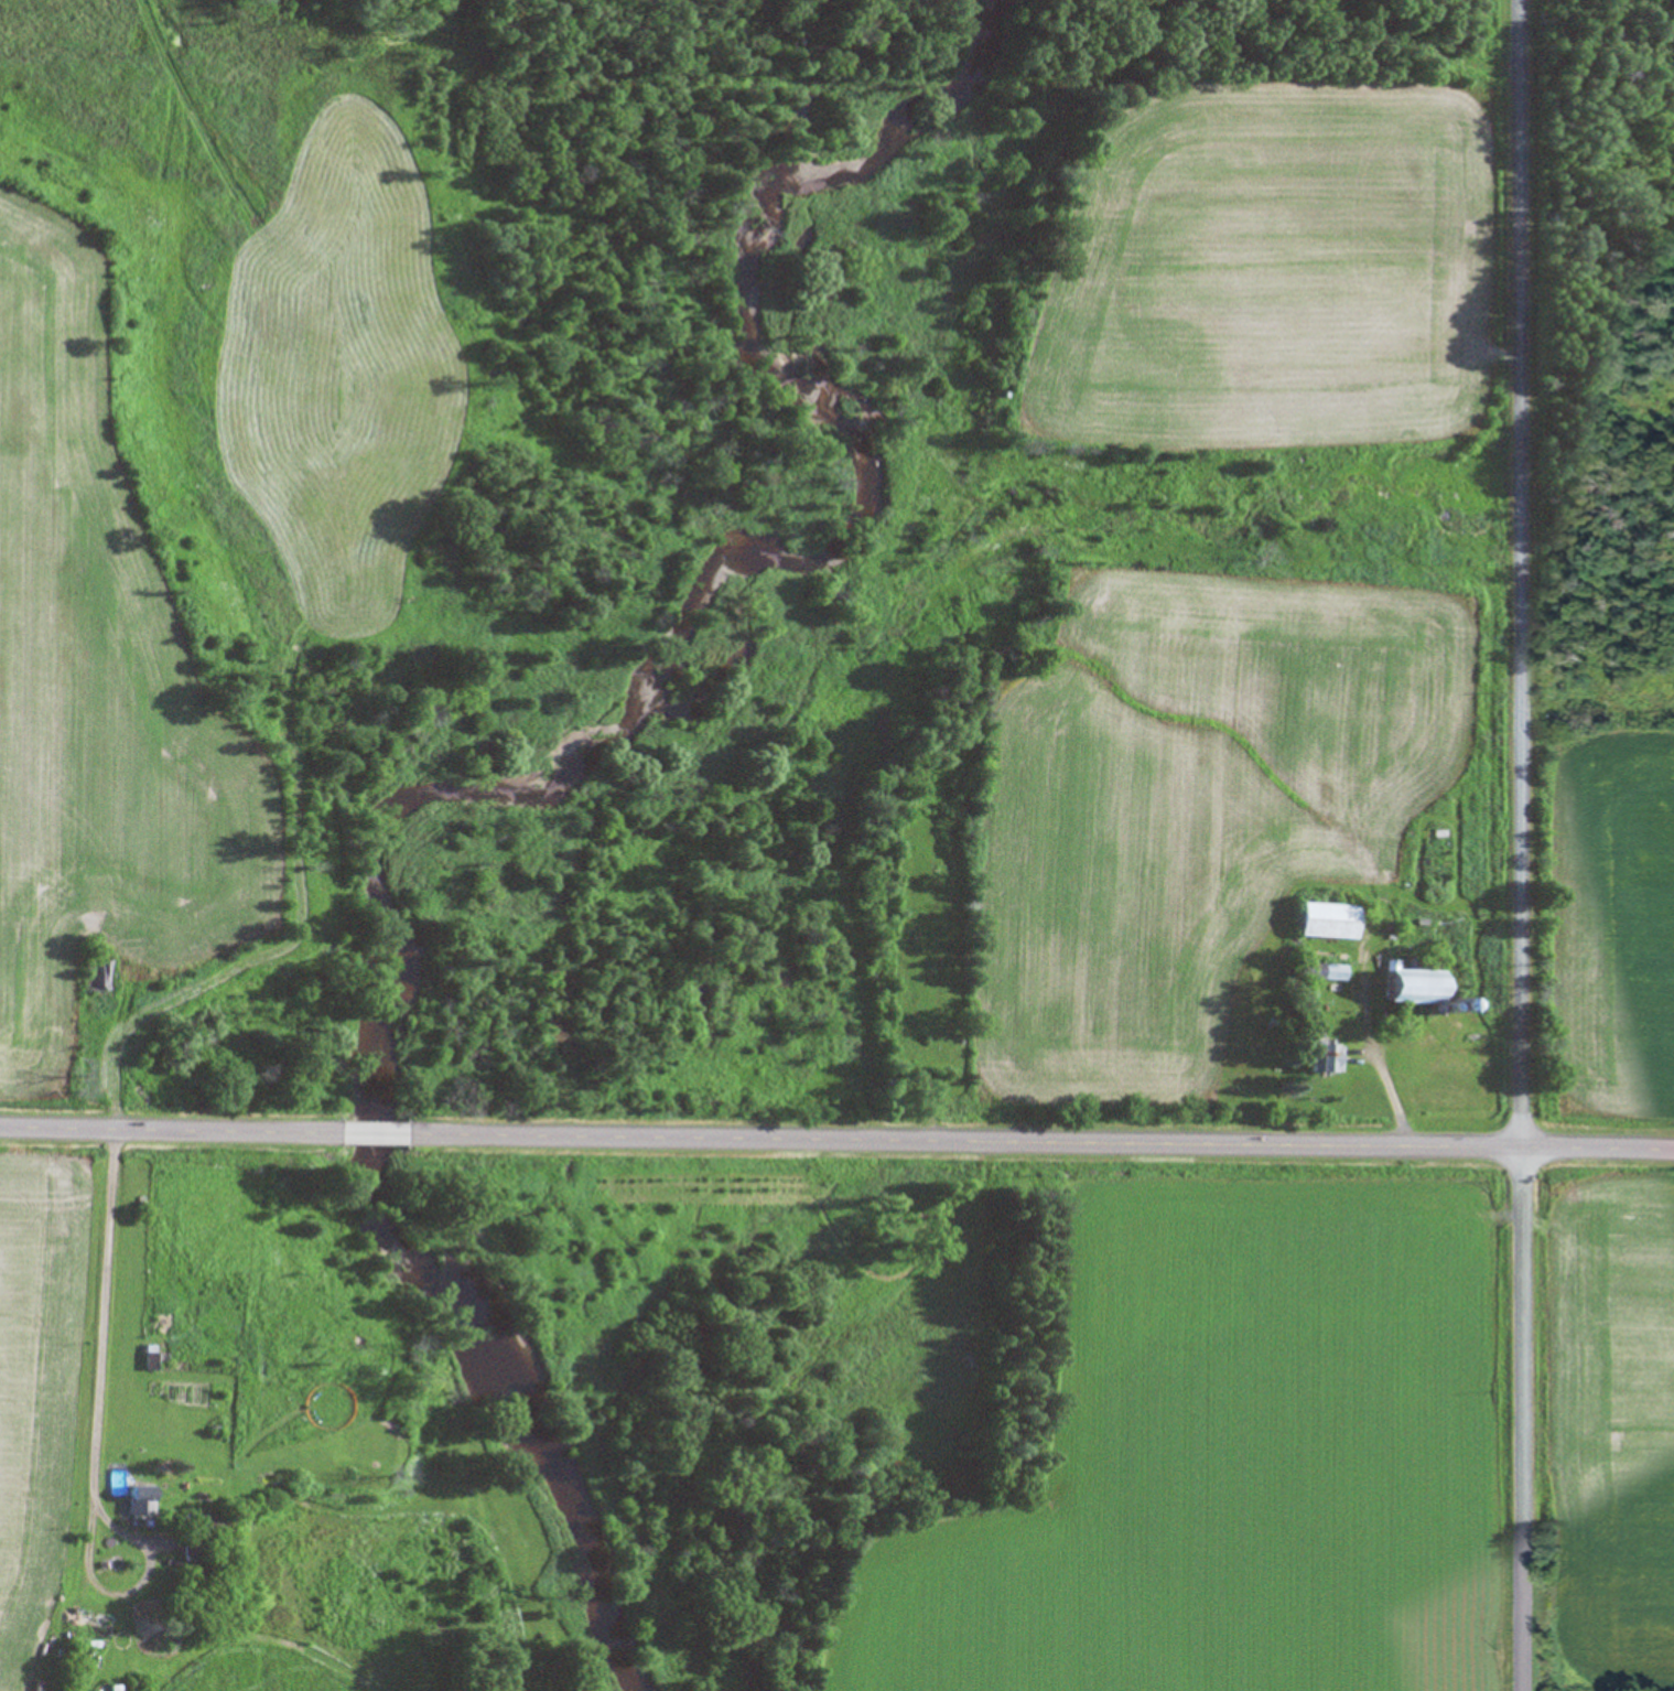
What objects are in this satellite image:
river: (955, 93)
river: (782, 380)
river: (678, 750)
road: (1521, 846)
river: (401, 860)
building: (1327, 922)
park: (921, 929)
building: (1333, 973)
building: (102, 980)
building: (1411, 987)
building: (1326, 1059)
road: (166, 1130)
road: (375, 1134)
road: (1045, 1142)
river: (439, 1305)
building: (150, 1360)
road: (95, 1435)
building: (139, 1499)
building: (203, 1529)
building: (115, 1688)

